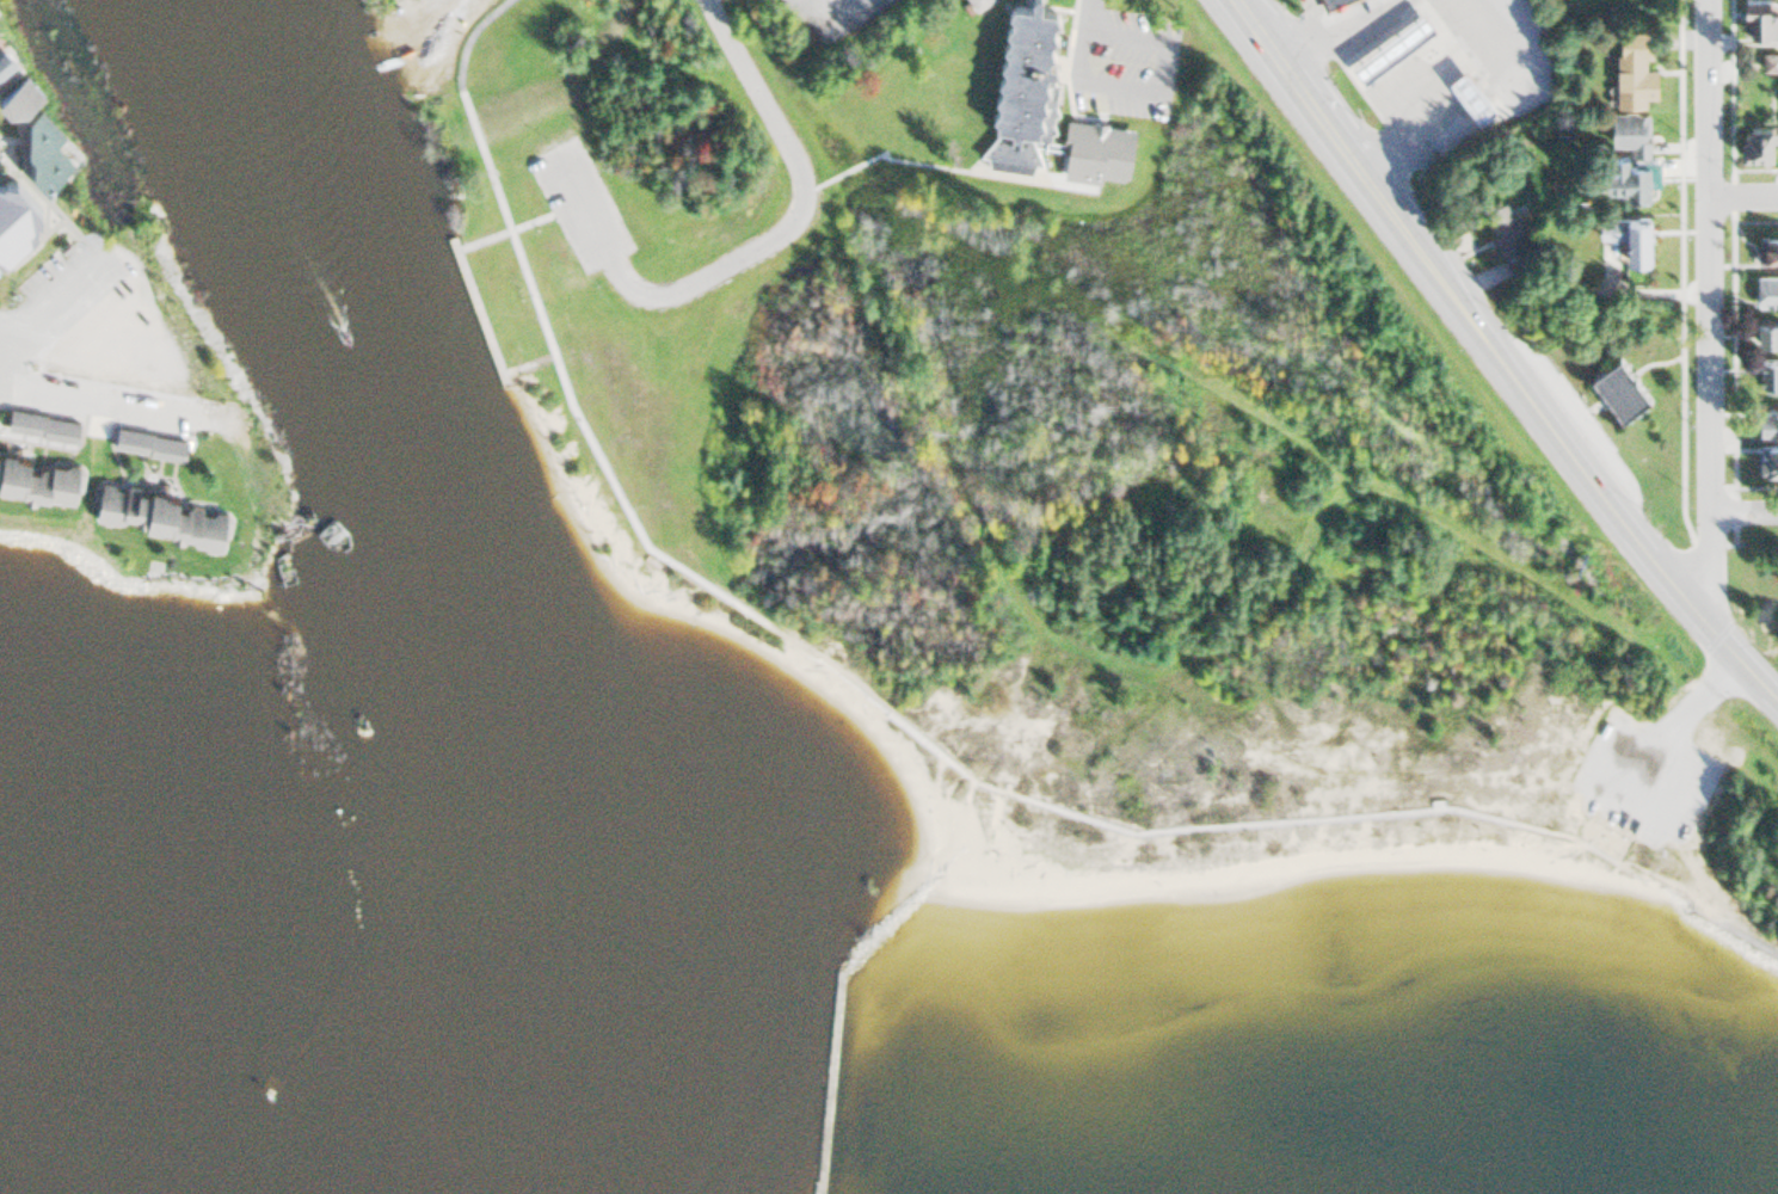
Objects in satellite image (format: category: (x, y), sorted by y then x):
building: (1331, 1)
building: (978, 2)
building: (1759, 16)
building: (1394, 42)
road: (1085, 67)
building: (1635, 67)
building: (1023, 86)
building: (1472, 91)
building: (21, 96)
building: (1759, 139)
building: (47, 147)
building: (1631, 154)
road: (1743, 197)
parking lot: (578, 199)
building: (16, 215)
building: (1630, 233)
building: (1511, 236)
building: (1767, 246)
road: (761, 247)
road: (468, 272)
building: (1766, 287)
road: (1709, 303)
building: (1767, 330)
road: (1, 333)
road: (1499, 358)
building: (1770, 374)
building: (1620, 386)
building: (1768, 420)
building: (43, 423)
building: (149, 441)
river: (383, 442)
building: (1771, 456)
road: (599, 460)
building: (38, 474)
building: (161, 512)
road: (1743, 512)
park: (977, 536)
road: (1671, 727)
parking lot: (1642, 775)
road: (1271, 814)
road: (1604, 826)
road: (1672, 890)
road: (844, 962)

